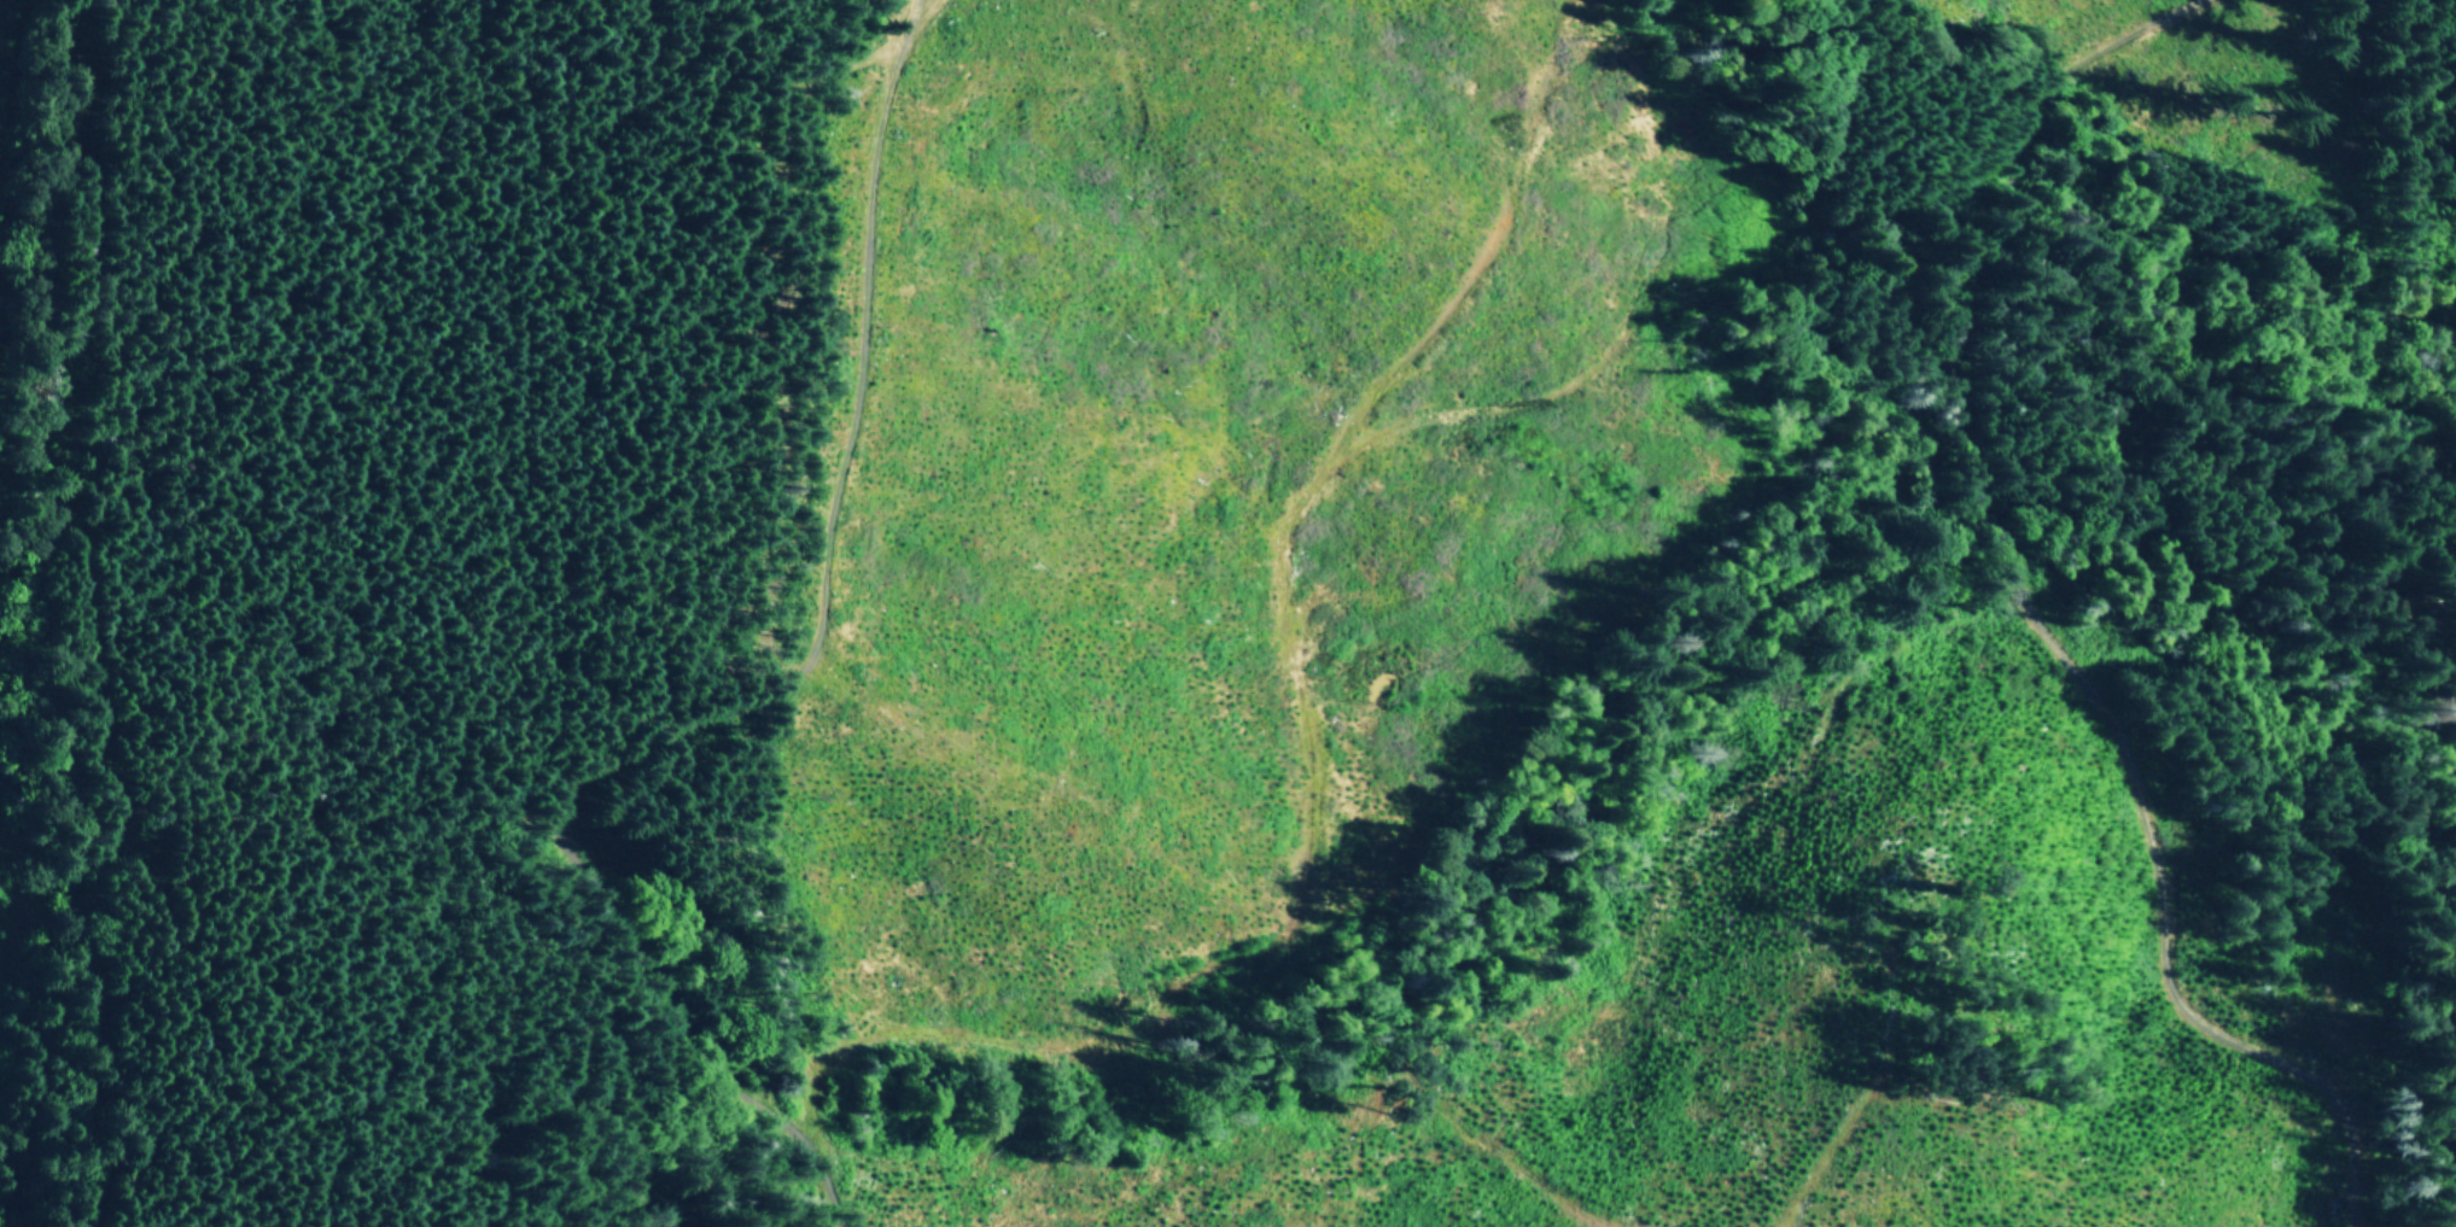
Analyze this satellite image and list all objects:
crop: (1600, 621)
road: (29, 900)

